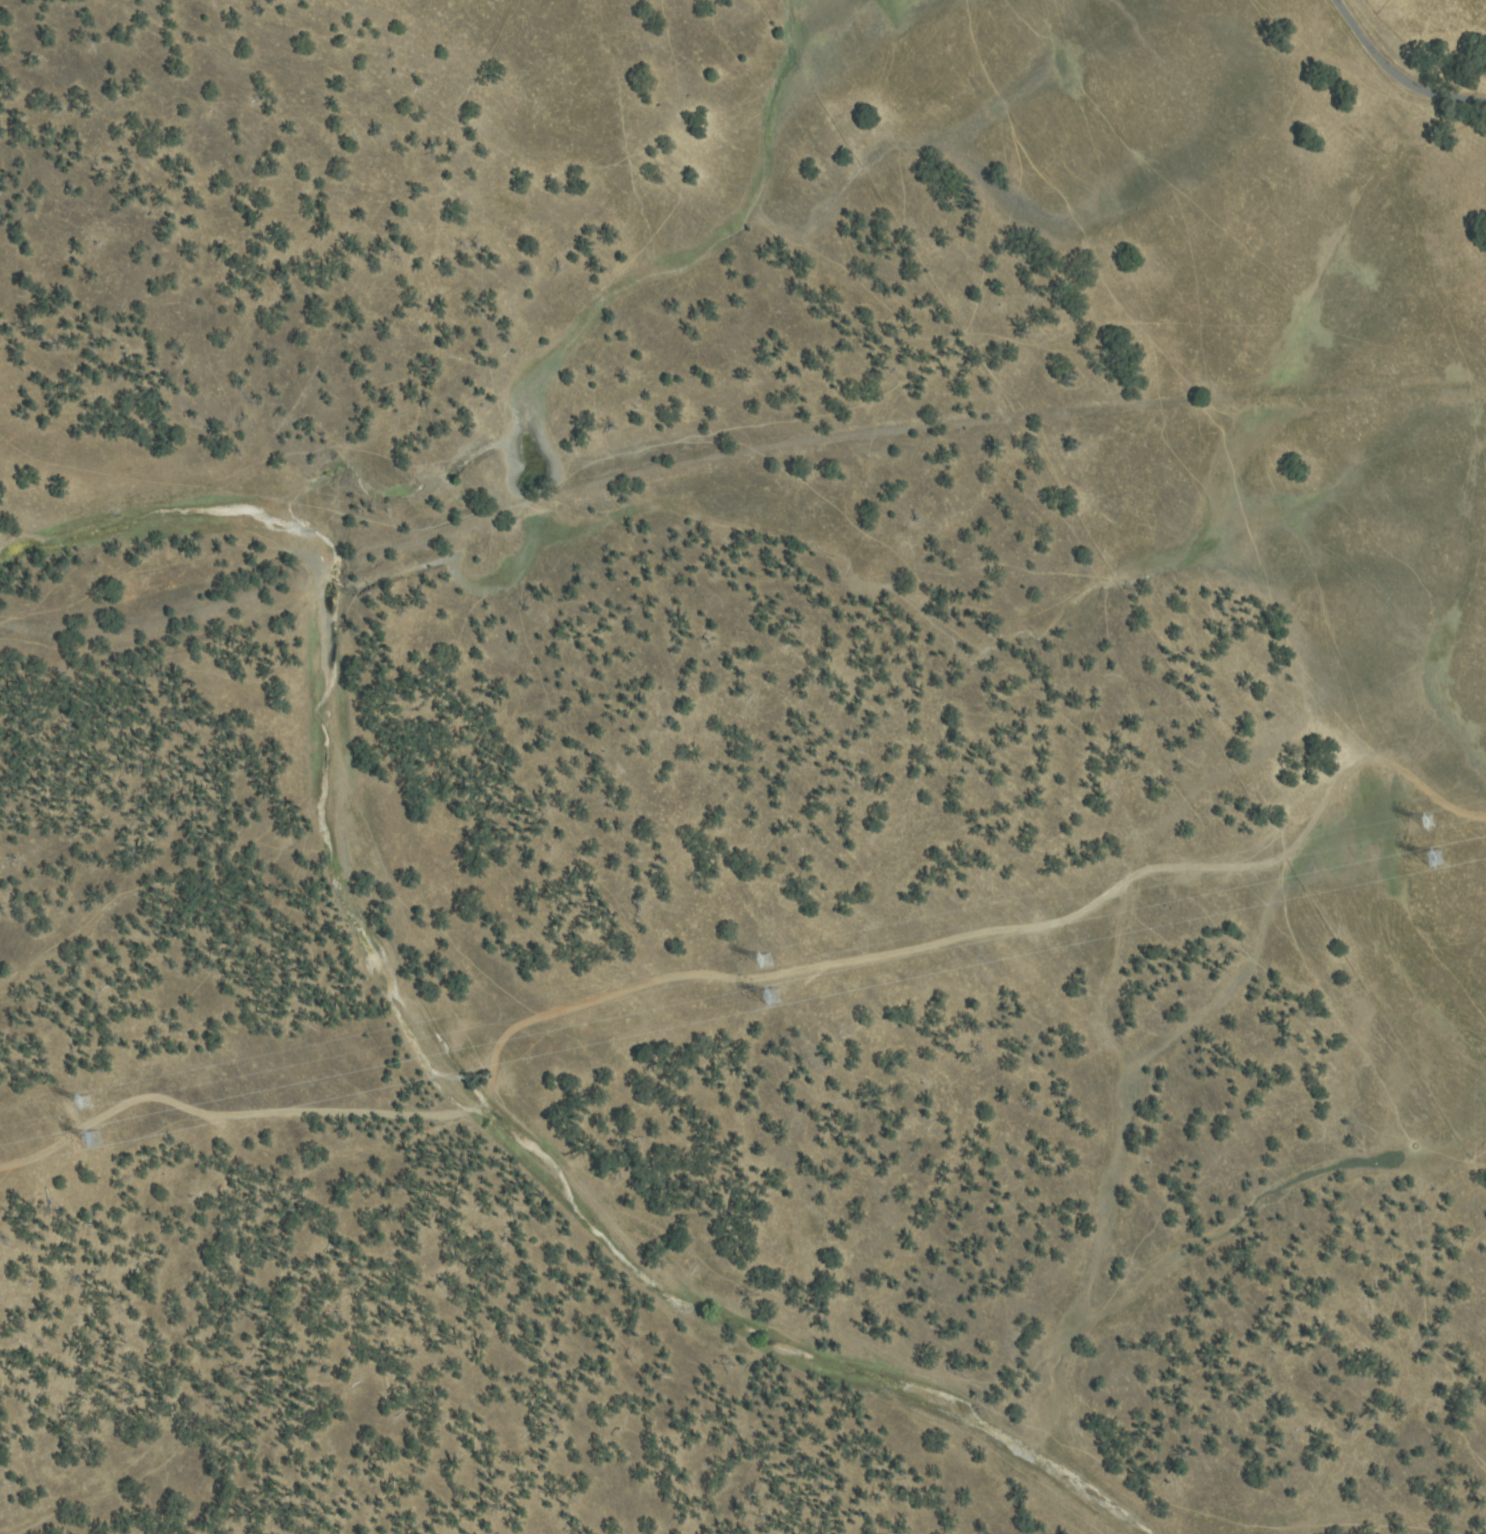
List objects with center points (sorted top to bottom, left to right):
road: (1402, 71)
power tower: (1424, 824)
power tower: (1433, 861)
power tower: (761, 962)
road: (744, 977)
power tower: (771, 999)
power tower: (86, 1103)
building: (93, 1139)
power tower: (92, 1141)

